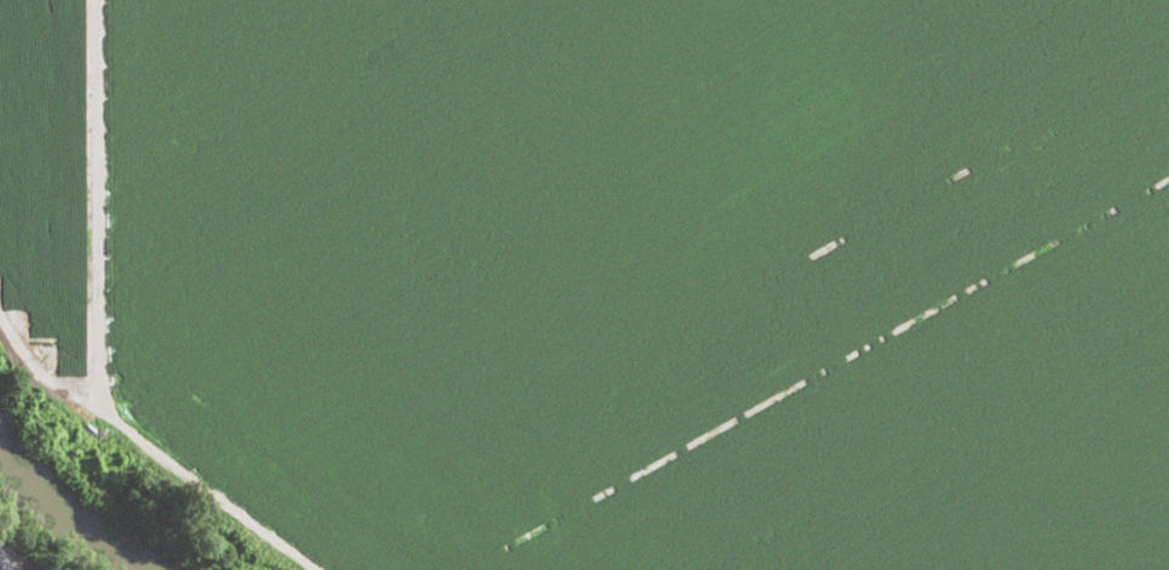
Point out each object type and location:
road: (91, 205)
road: (143, 453)
river: (70, 493)
road: (12, 557)

